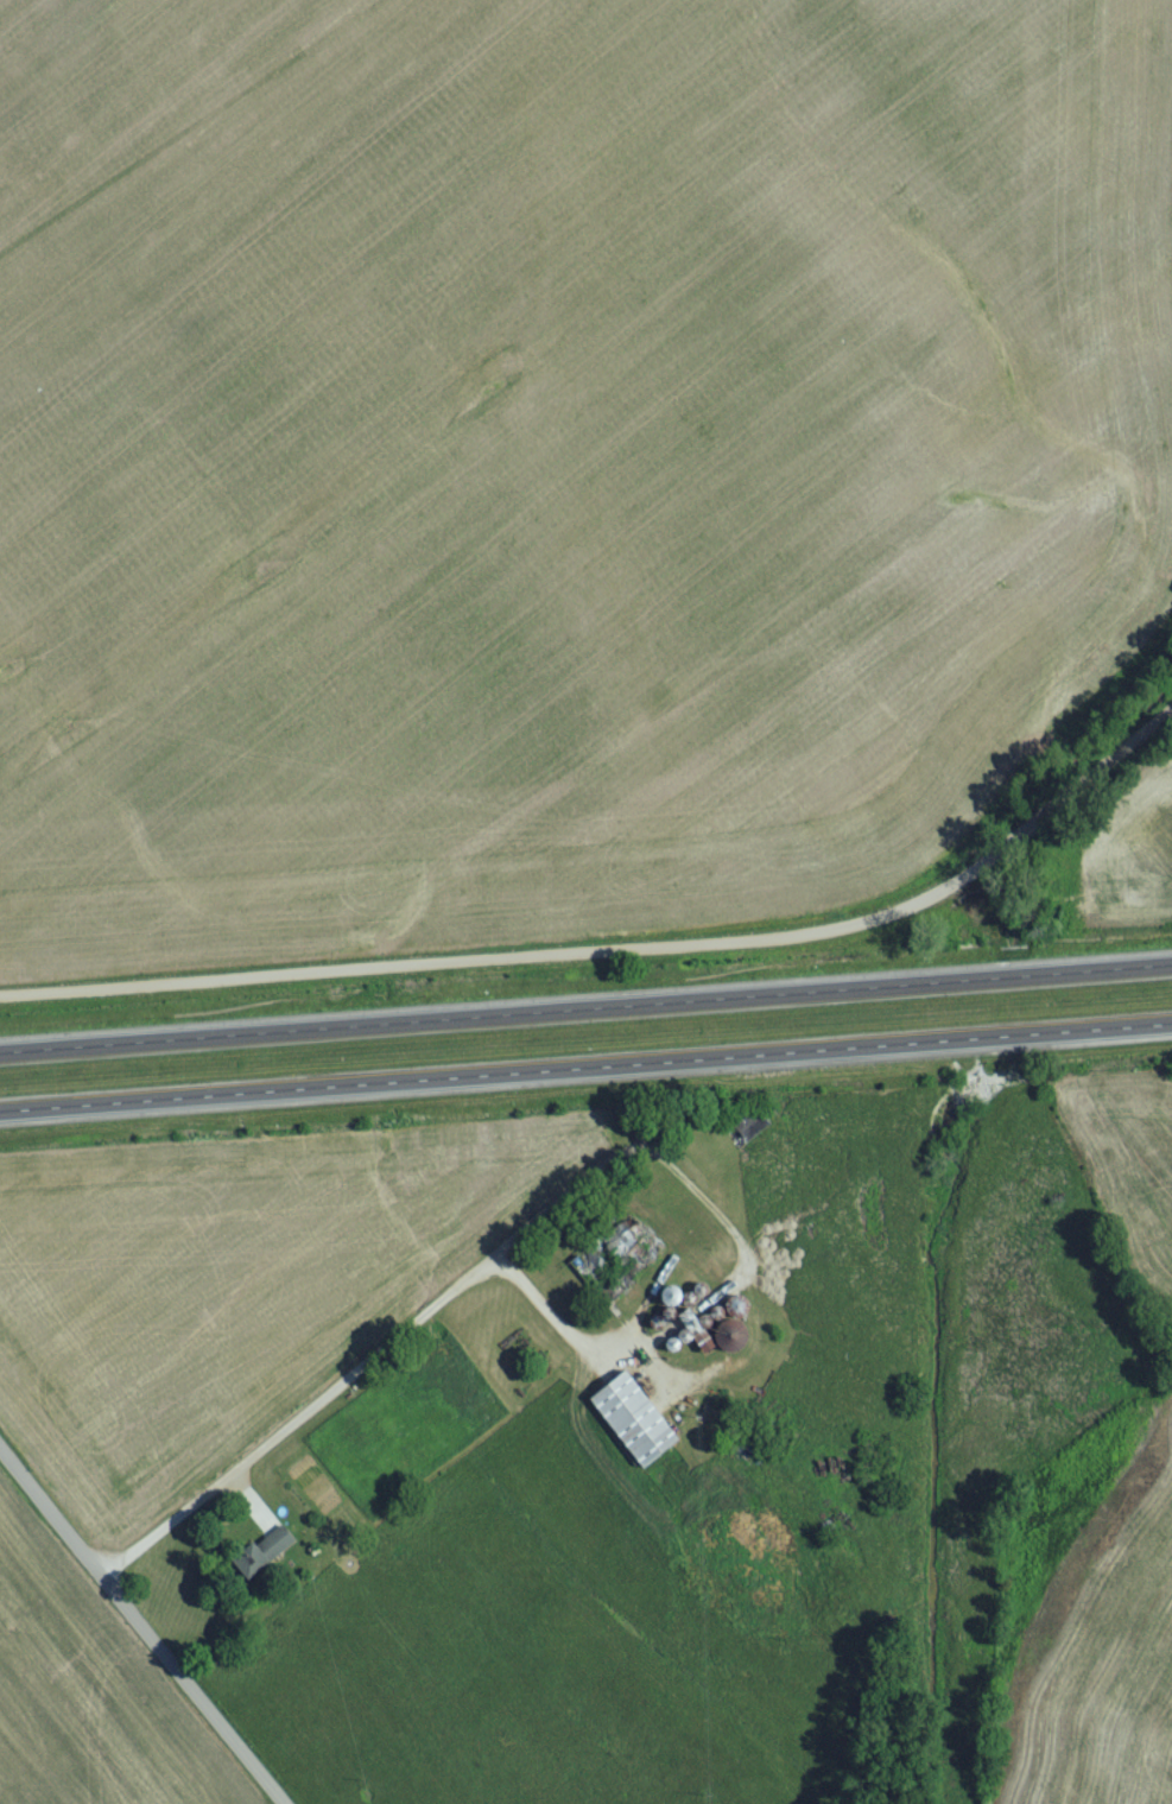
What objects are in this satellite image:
road: (619, 957)
road: (585, 1017)
road: (585, 1074)
building: (752, 1131)
road: (712, 1207)
road: (575, 1340)
road: (369, 1365)
building: (635, 1428)
building: (266, 1558)
road: (138, 1632)

